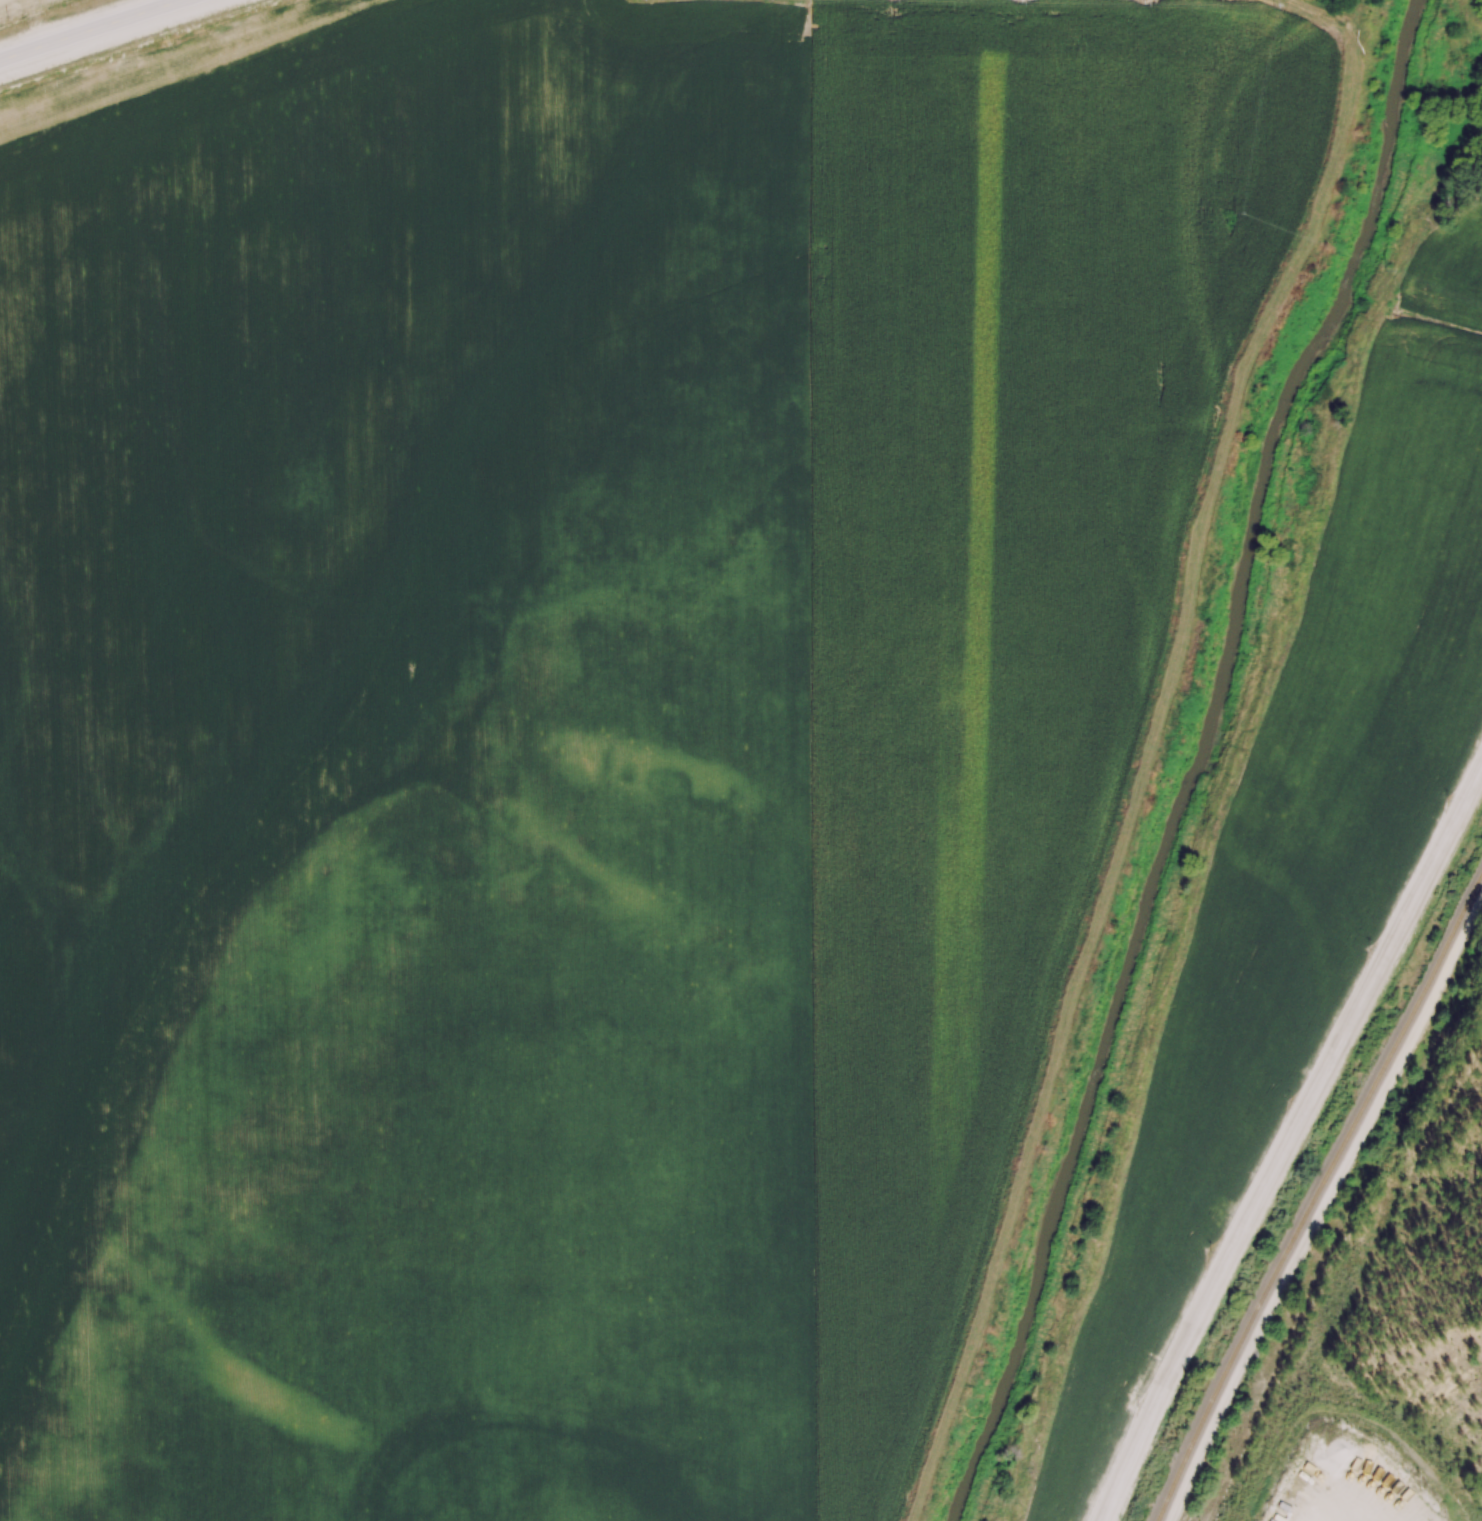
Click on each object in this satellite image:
road: (100, 32)
river: (1198, 760)
road: (1289, 1140)
railway: (1315, 1196)
quarry: (1481, 1518)

